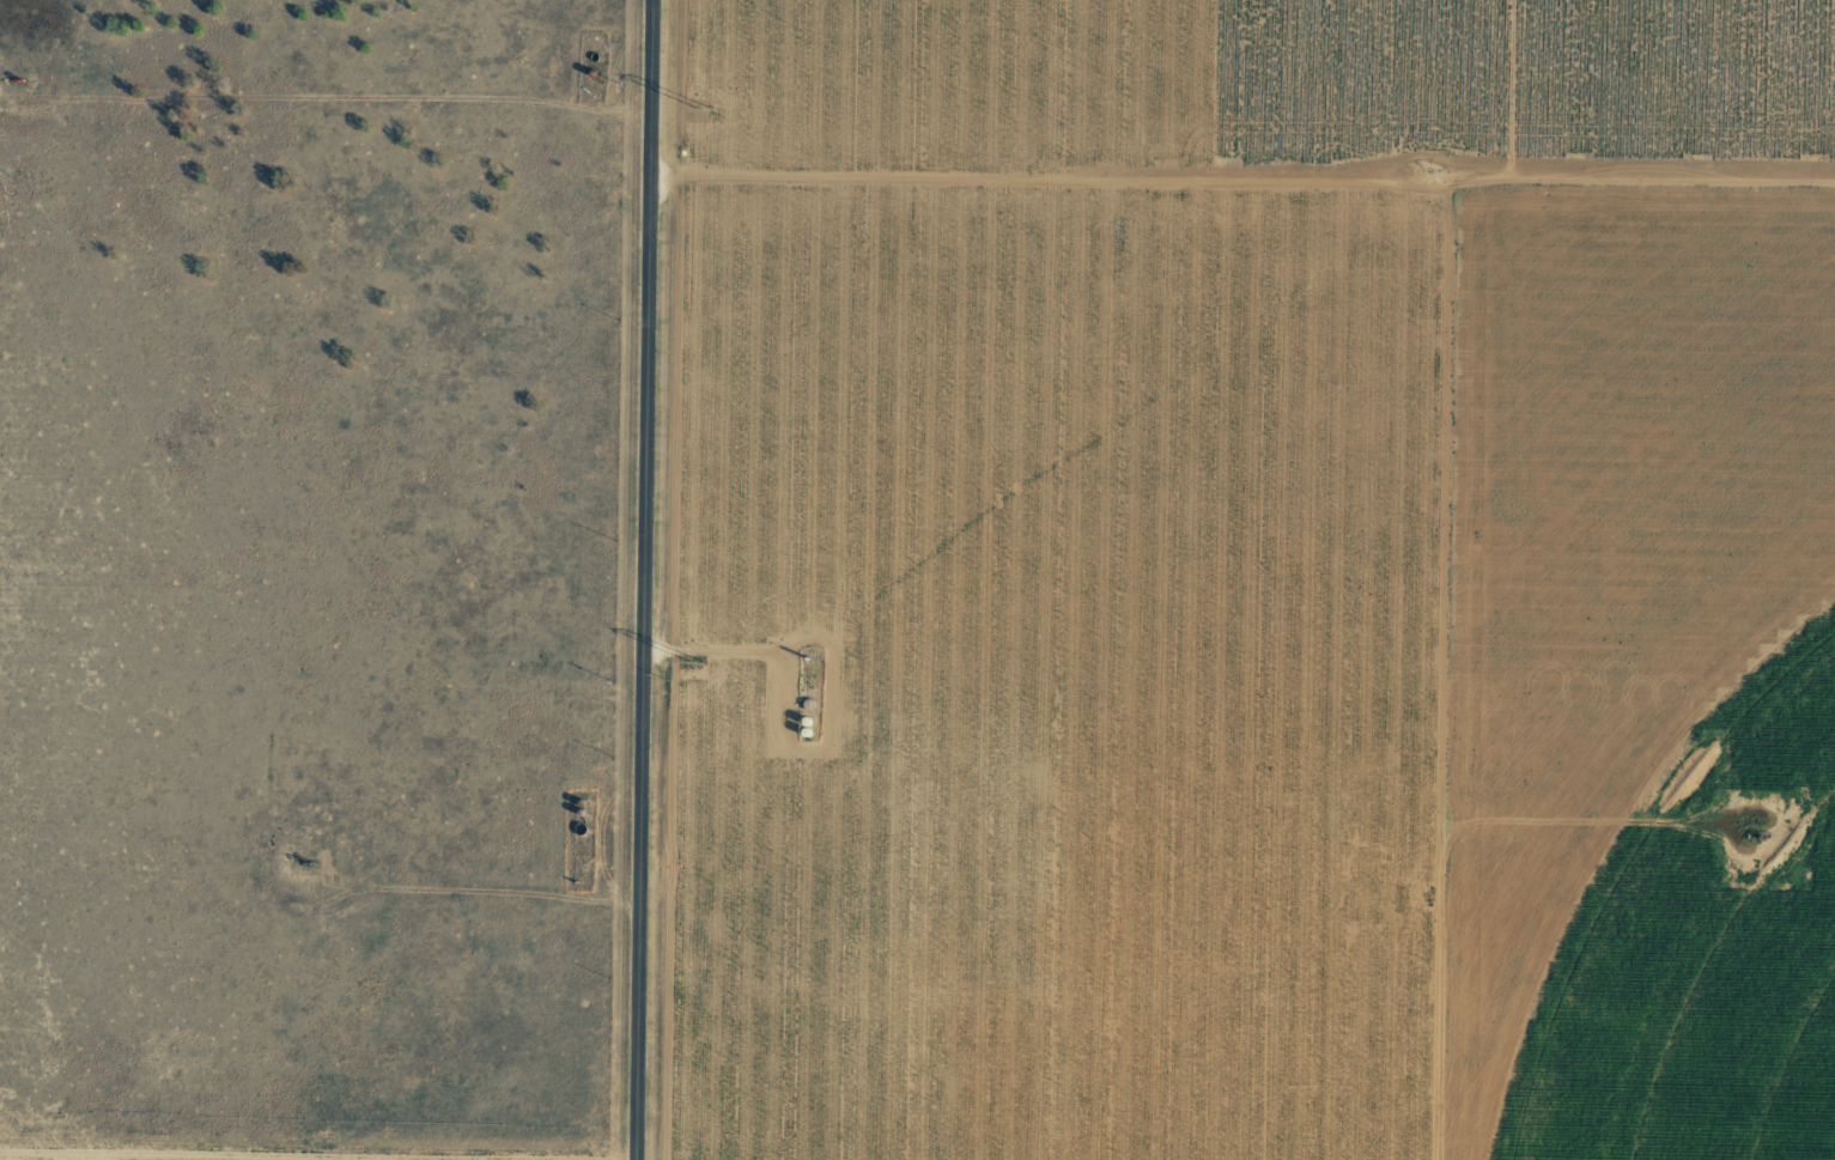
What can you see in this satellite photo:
petroleum well: (16, 83)
power tower: (706, 109)
road: (1251, 219)
road: (657, 579)
power tower: (697, 662)
road: (1414, 691)
petroleum well: (1763, 836)
petroleum well: (304, 862)

